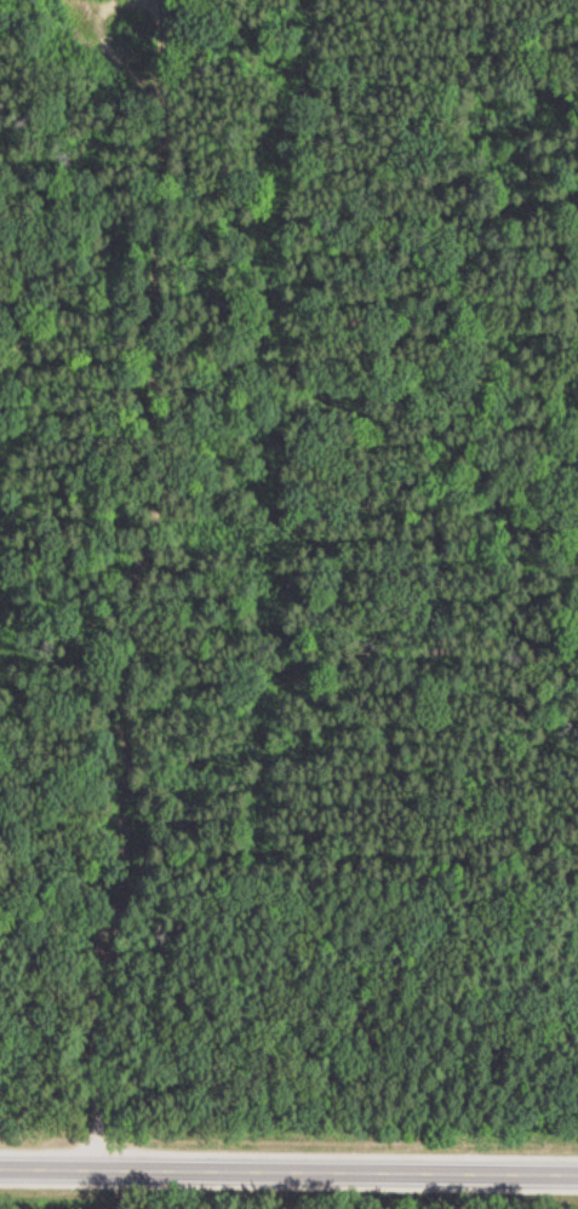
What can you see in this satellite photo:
road: (96, 585)
road: (288, 1168)

